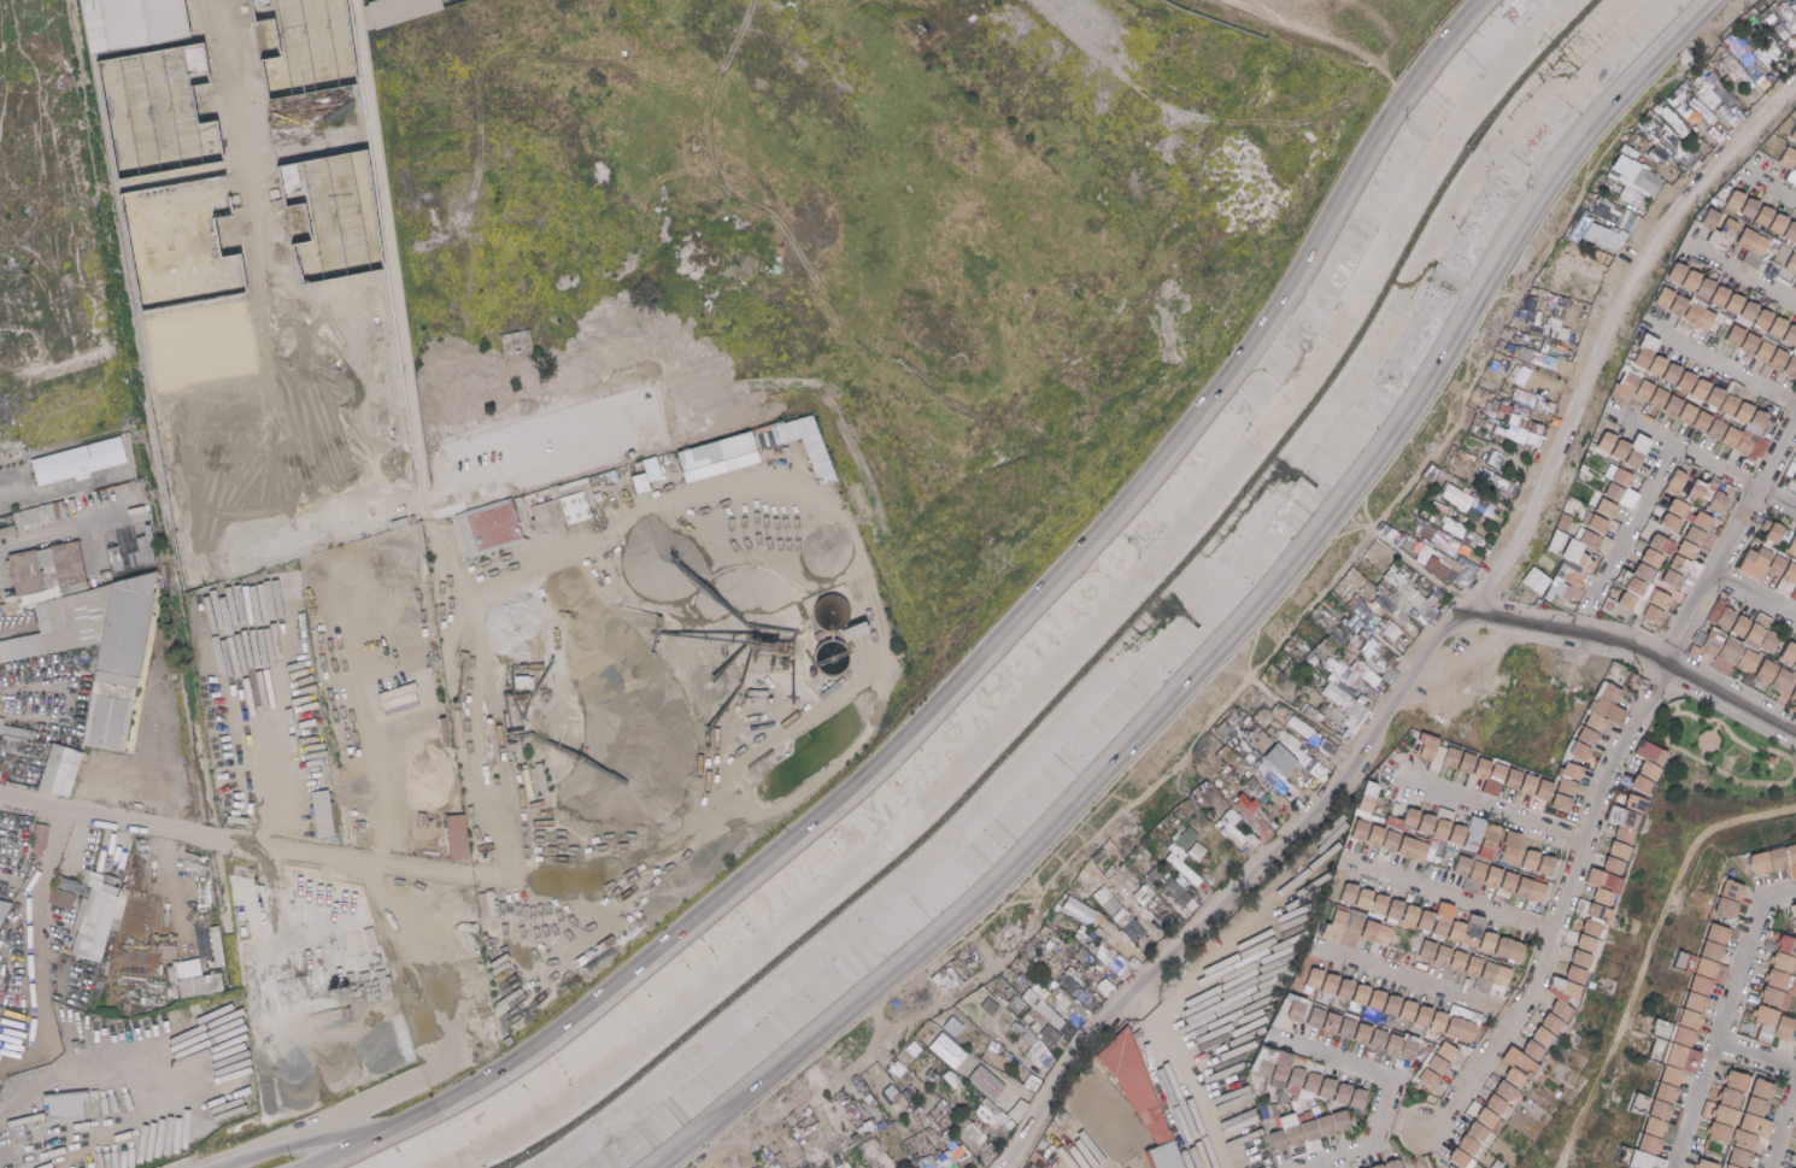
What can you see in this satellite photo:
parking lot: (265, 512)
quarry: (644, 687)
park: (1721, 751)

